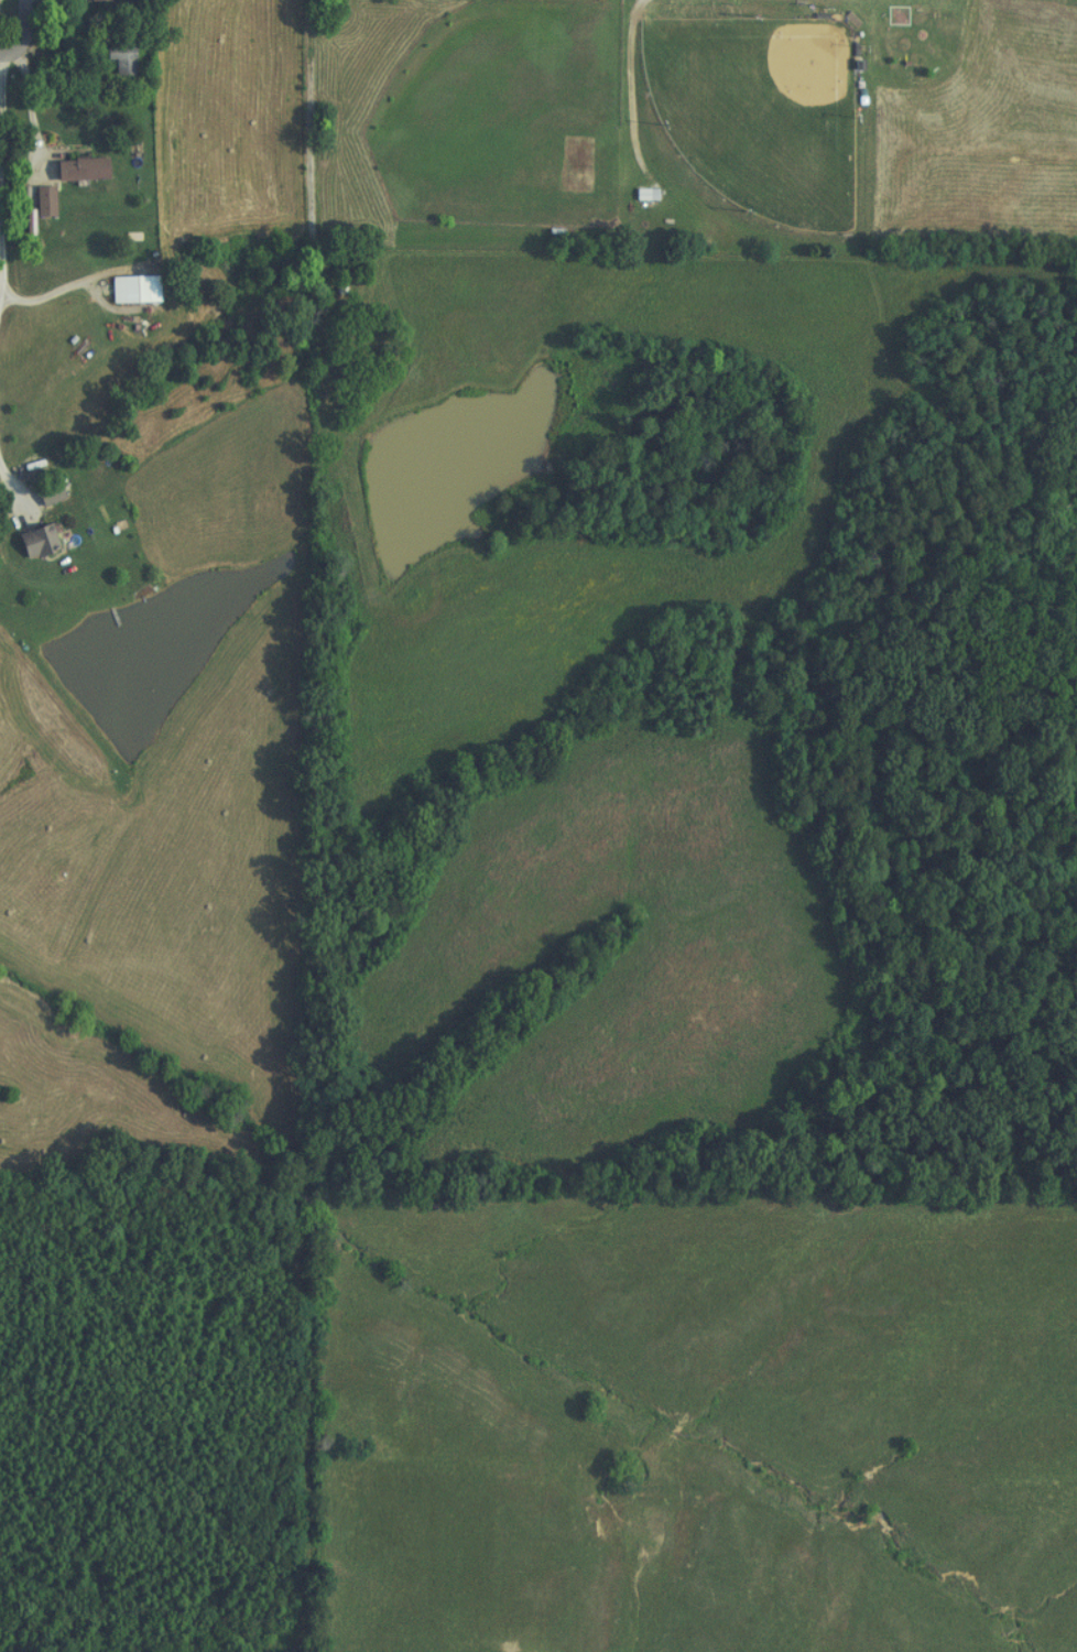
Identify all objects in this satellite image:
building: (93, 0)
road: (14, 56)
building: (113, 59)
road: (34, 157)
building: (74, 170)
building: (640, 195)
building: (39, 202)
road: (79, 281)
building: (122, 290)
road: (3, 467)
building: (44, 494)
building: (31, 542)

